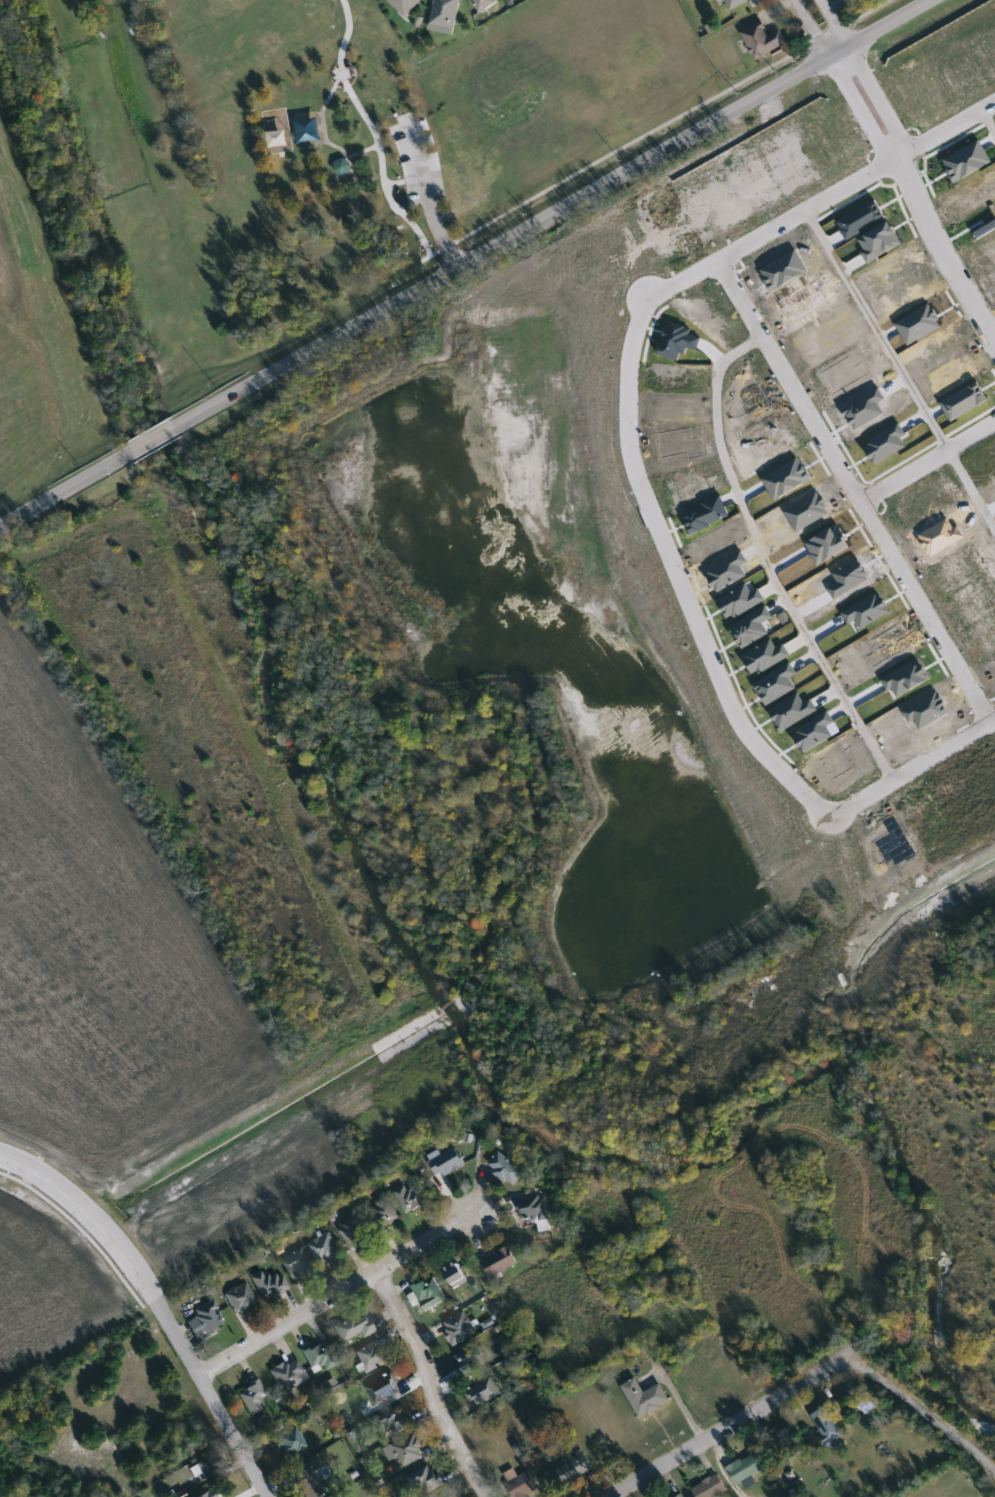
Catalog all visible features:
building: (733, 2)
building: (487, 3)
building: (404, 5)
building: (445, 12)
road: (834, 23)
road: (812, 28)
building: (762, 38)
road: (878, 99)
road: (361, 108)
road: (860, 108)
road: (988, 120)
road: (323, 127)
road: (946, 128)
park: (305, 155)
parking lot: (417, 159)
building: (343, 165)
road: (426, 193)
road: (552, 214)
road: (408, 218)
road: (772, 228)
road: (941, 250)
road: (900, 368)
road: (155, 440)
road: (928, 461)
road: (67, 489)
road: (855, 489)
road: (765, 558)
road: (677, 573)
road: (912, 768)
building: (447, 1164)
building: (507, 1168)
building: (411, 1197)
building: (535, 1211)
building: (384, 1214)
building: (355, 1231)
building: (325, 1250)
building: (500, 1261)
building: (298, 1266)
building: (456, 1274)
building: (270, 1283)
road: (337, 1292)
building: (429, 1293)
building: (240, 1299)
road: (157, 1303)
building: (208, 1317)
building: (353, 1326)
building: (459, 1329)
building: (320, 1356)
building: (372, 1356)
building: (473, 1360)
building: (289, 1375)
road: (810, 1379)
road: (432, 1382)
building: (383, 1388)
building: (483, 1391)
building: (253, 1397)
building: (645, 1397)
building: (394, 1421)
building: (827, 1426)
building: (792, 1442)
building: (289, 1443)
building: (409, 1450)
building: (210, 1467)
building: (745, 1469)
building: (569, 1472)
building: (425, 1480)
building: (308, 1483)
building: (522, 1483)
building: (710, 1487)
building: (228, 1491)
building: (683, 1496)

